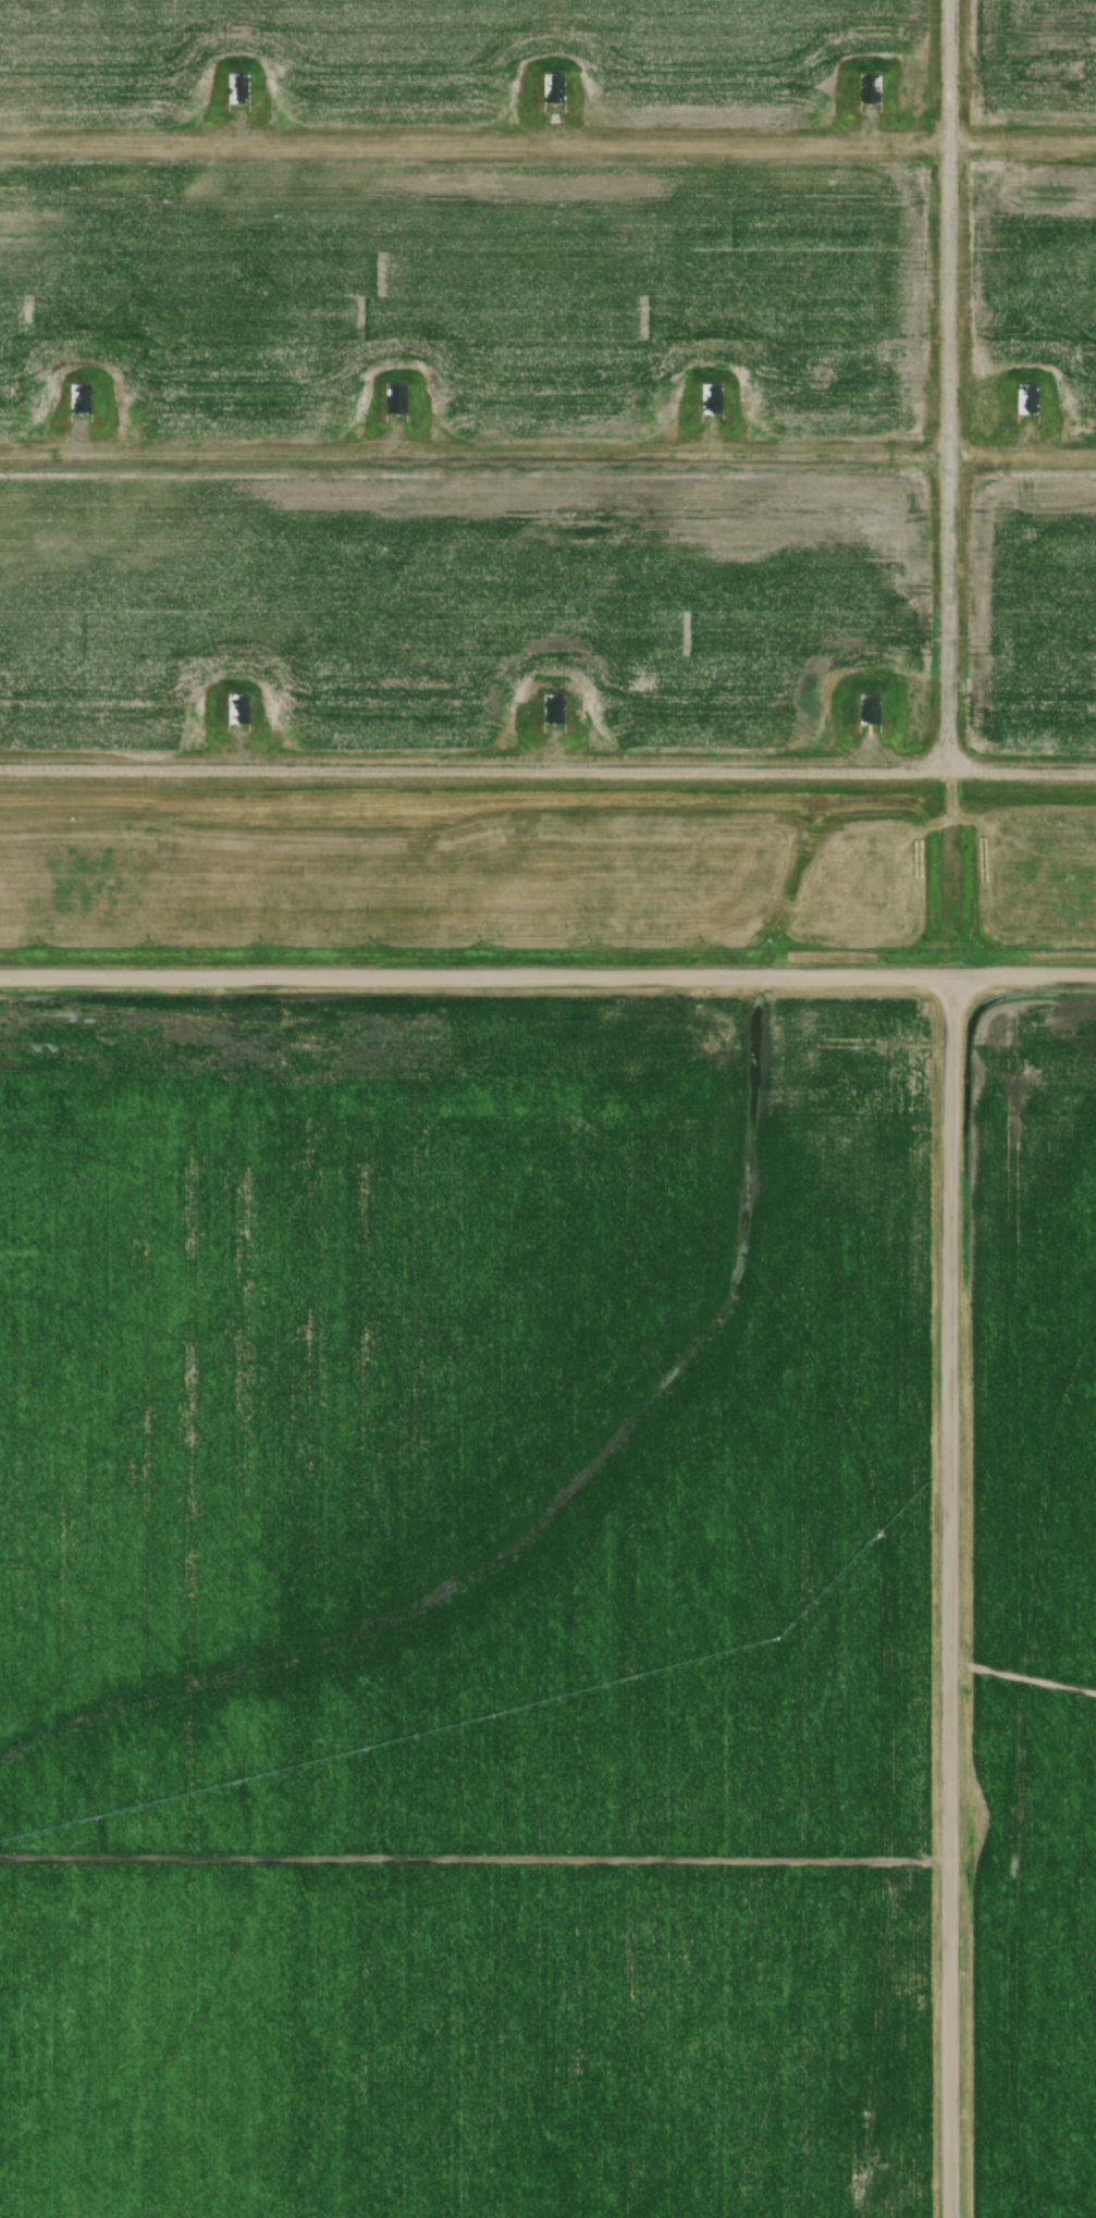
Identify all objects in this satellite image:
building: (236, 89)
building: (552, 89)
building: (867, 89)
road: (547, 144)
road: (946, 383)
building: (78, 397)
building: (709, 397)
building: (394, 398)
building: (1024, 398)
road: (547, 454)
building: (236, 708)
building: (552, 708)
building: (865, 708)
road: (547, 767)
road: (547, 972)
road: (945, 1594)

